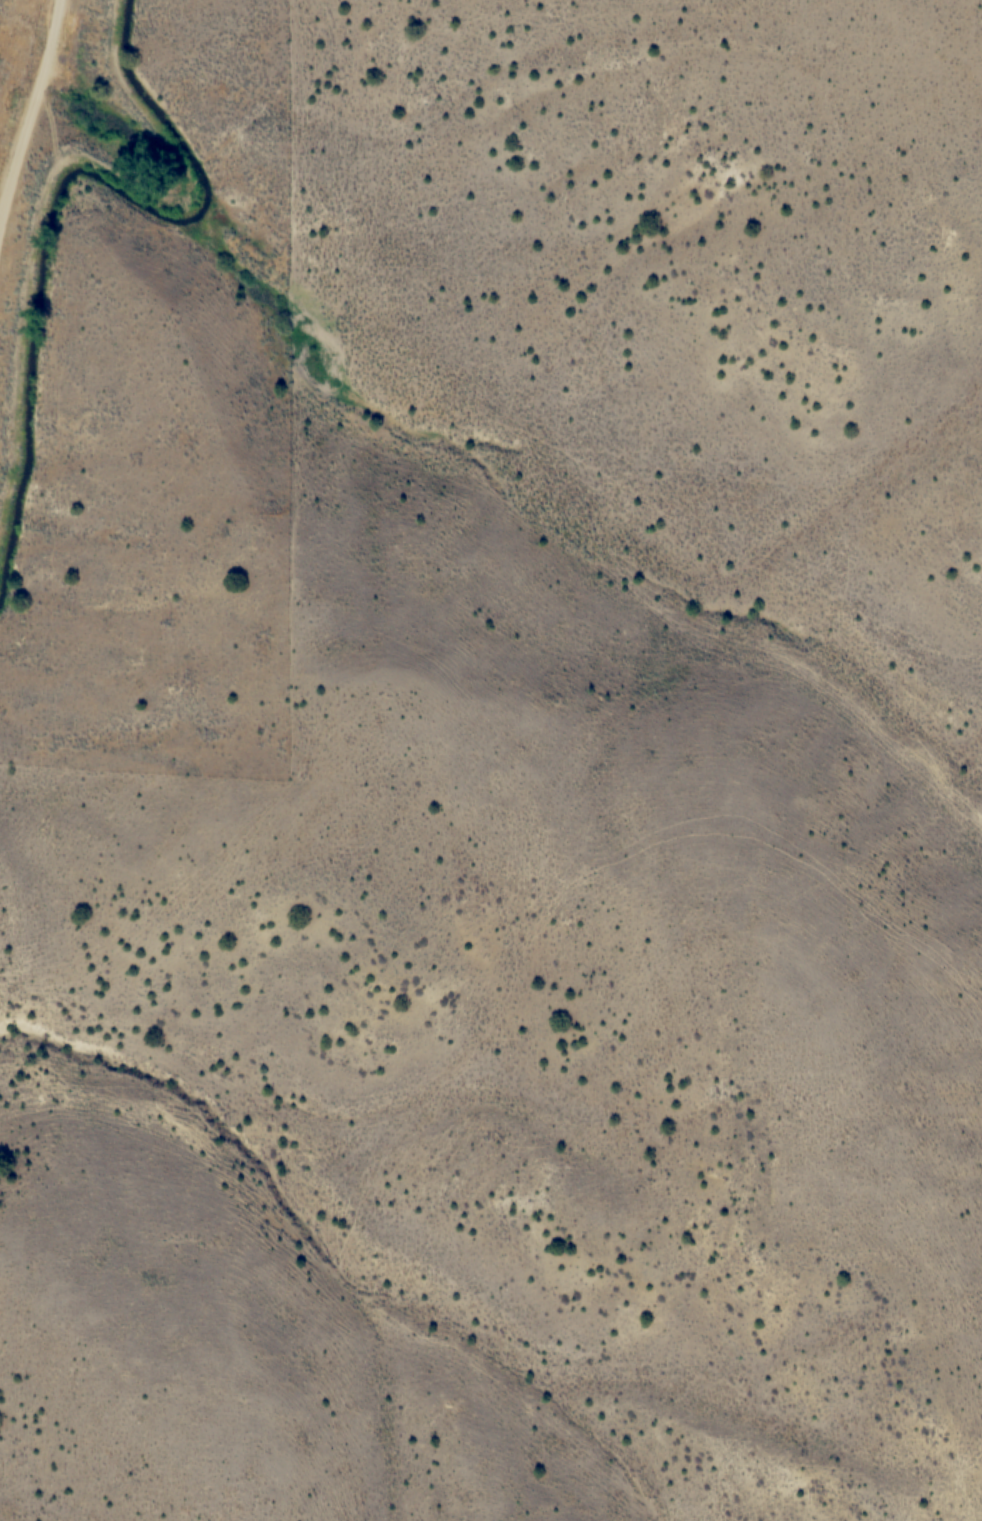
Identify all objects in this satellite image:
road: (31, 124)

